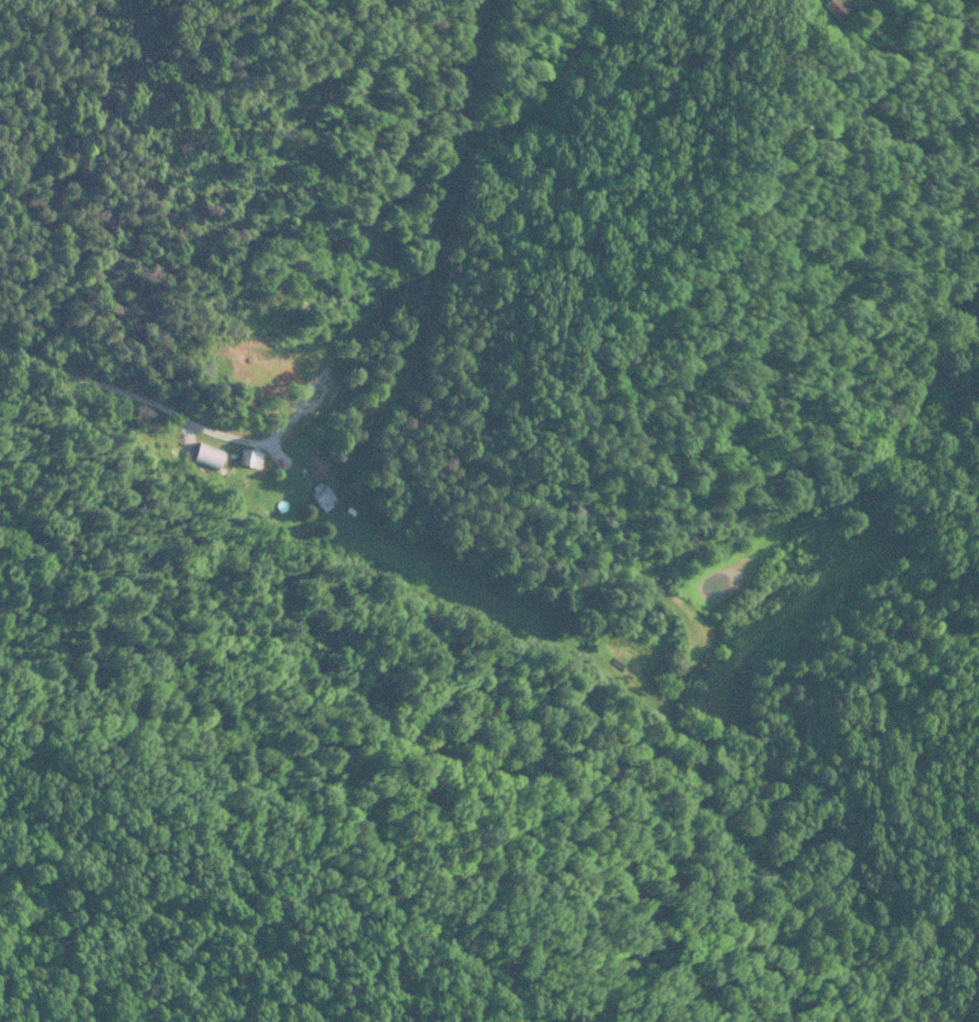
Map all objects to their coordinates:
building: (251, 459)
building: (326, 499)

